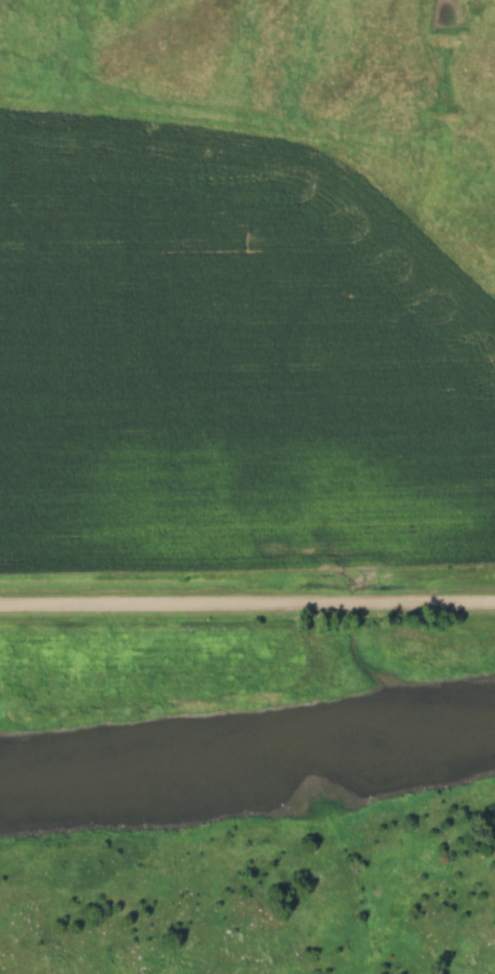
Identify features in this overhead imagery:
road: (247, 602)

